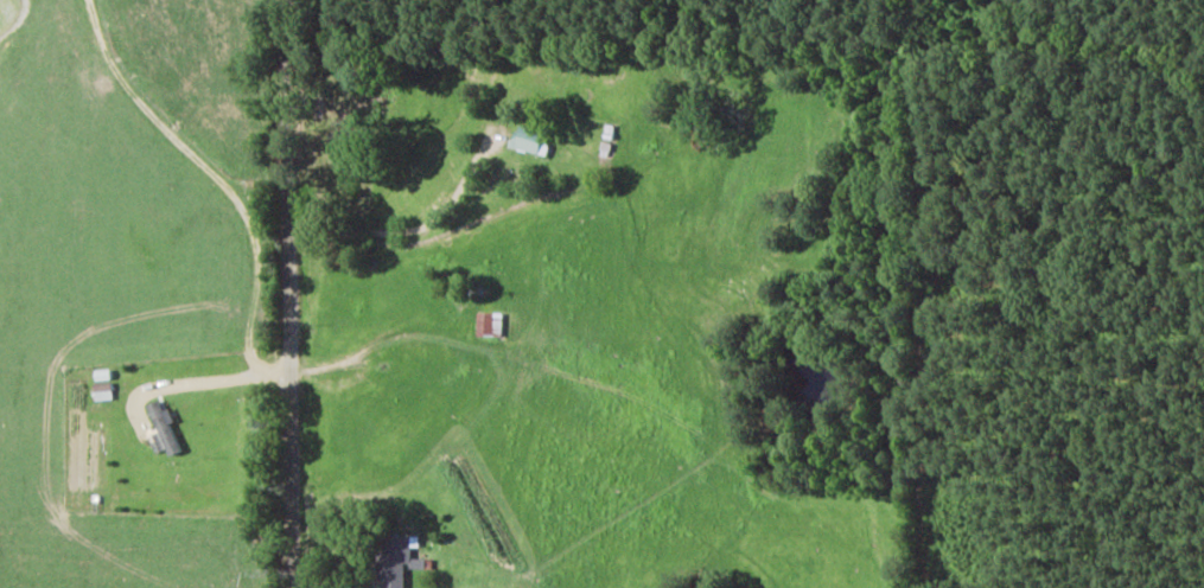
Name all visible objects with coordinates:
road: (285, 293)
building: (490, 322)
building: (103, 386)
building: (163, 428)
building: (395, 561)

